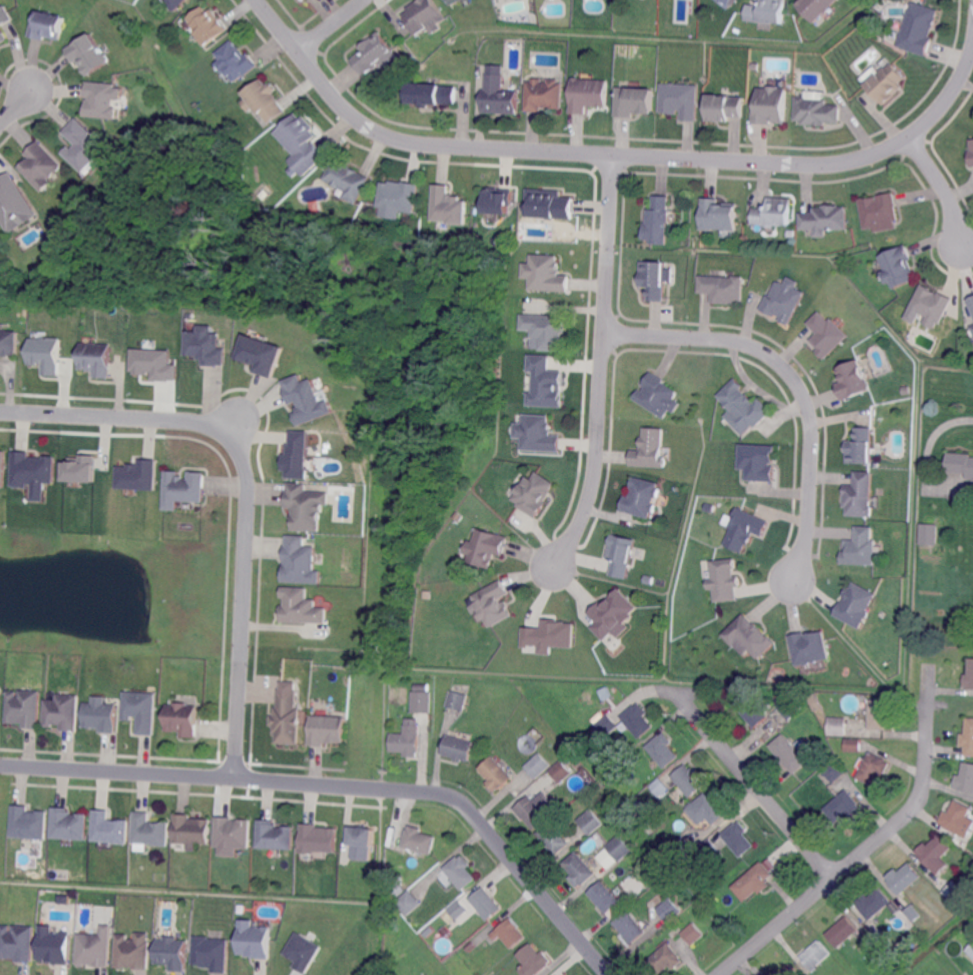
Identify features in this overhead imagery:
building: (452, 1)
building: (174, 3)
building: (727, 3)
building: (815, 7)
building: (766, 12)
building: (426, 16)
building: (5, 17)
building: (208, 23)
building: (47, 27)
road: (336, 29)
building: (919, 29)
building: (3, 38)
building: (374, 53)
building: (88, 55)
building: (235, 60)
building: (886, 84)
building: (431, 94)
building: (545, 94)
building: (588, 94)
building: (498, 96)
building: (263, 99)
building: (101, 100)
building: (681, 100)
building: (634, 101)
road: (16, 104)
building: (770, 106)
building: (724, 108)
building: (816, 110)
building: (300, 141)
building: (82, 148)
building: (971, 152)
road: (603, 156)
building: (40, 167)
building: (347, 181)
road: (946, 183)
building: (398, 196)
building: (497, 201)
building: (14, 204)
building: (548, 205)
building: (448, 207)
building: (316, 208)
building: (878, 210)
building: (773, 213)
building: (718, 216)
building: (825, 220)
building: (657, 221)
building: (897, 267)
building: (546, 275)
building: (654, 280)
building: (722, 289)
building: (784, 300)
building: (971, 303)
building: (930, 304)
building: (972, 329)
building: (546, 332)
building: (827, 335)
building: (8, 343)
building: (204, 344)
building: (44, 353)
building: (260, 353)
building: (96, 359)
building: (153, 363)
road: (605, 365)
building: (853, 381)
road: (796, 382)
building: (546, 383)
building: (906, 391)
building: (659, 396)
building: (307, 401)
building: (744, 408)
building: (537, 434)
building: (862, 447)
building: (651, 450)
building: (297, 454)
building: (758, 462)
building: (961, 463)
building: (78, 468)
building: (2, 469)
building: (33, 471)
building: (137, 474)
road: (245, 486)
building: (183, 489)
building: (534, 494)
building: (860, 495)
building: (642, 498)
building: (306, 507)
building: (712, 507)
building: (459, 517)
building: (745, 529)
building: (928, 532)
building: (486, 548)
building: (862, 548)
building: (622, 555)
building: (300, 562)
building: (649, 580)
building: (724, 580)
building: (492, 605)
building: (856, 606)
building: (301, 608)
building: (614, 616)
building: (550, 637)
building: (748, 637)
building: (810, 648)
building: (969, 675)
building: (422, 687)
building: (605, 692)
building: (0, 696)
building: (457, 700)
building: (422, 701)
building: (792, 706)
building: (24, 709)
building: (141, 711)
building: (63, 713)
building: (755, 714)
building: (881, 715)
building: (101, 716)
building: (287, 718)
building: (183, 719)
building: (638, 720)
building: (607, 725)
building: (838, 725)
building: (327, 730)
building: (408, 738)
building: (968, 738)
building: (854, 744)
building: (459, 747)
building: (664, 749)
building: (790, 753)
building: (537, 764)
building: (874, 768)
building: (835, 770)
building: (562, 771)
building: (497, 774)
building: (966, 777)
building: (606, 779)
building: (689, 780)
road: (754, 783)
road: (345, 786)
building: (844, 806)
building: (709, 808)
building: (537, 809)
building: (956, 816)
building: (591, 821)
building: (658, 822)
building: (28, 824)
building: (69, 825)
building: (108, 827)
building: (151, 831)
building: (191, 831)
building: (233, 833)
building: (276, 836)
building: (554, 837)
building: (740, 838)
building: (420, 839)
building: (318, 840)
building: (363, 843)
road: (871, 843)
building: (620, 847)
building: (681, 847)
building: (711, 851)
building: (935, 853)
building: (580, 869)
building: (459, 872)
building: (614, 877)
building: (904, 877)
building: (396, 880)
building: (753, 882)
building: (396, 890)
building: (954, 891)
building: (609, 898)
building: (408, 901)
building: (487, 903)
building: (874, 903)
building: (669, 907)
building: (458, 909)
building: (913, 912)
building: (631, 926)
building: (873, 926)
building: (842, 931)
building: (693, 932)
building: (510, 933)
building: (255, 940)
building: (17, 944)
building: (470, 945)
building: (54, 946)
building: (95, 948)
building: (970, 949)
building: (134, 951)
building: (302, 951)
building: (173, 952)
building: (212, 953)
building: (816, 955)
building: (666, 959)
building: (533, 961)
building: (788, 971)
building: (557, 974)

